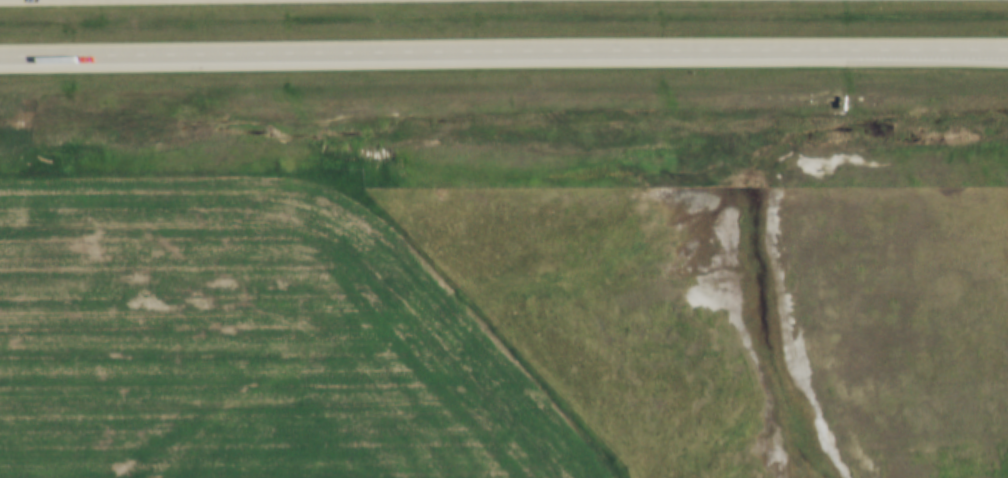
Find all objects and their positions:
road: (503, 49)

